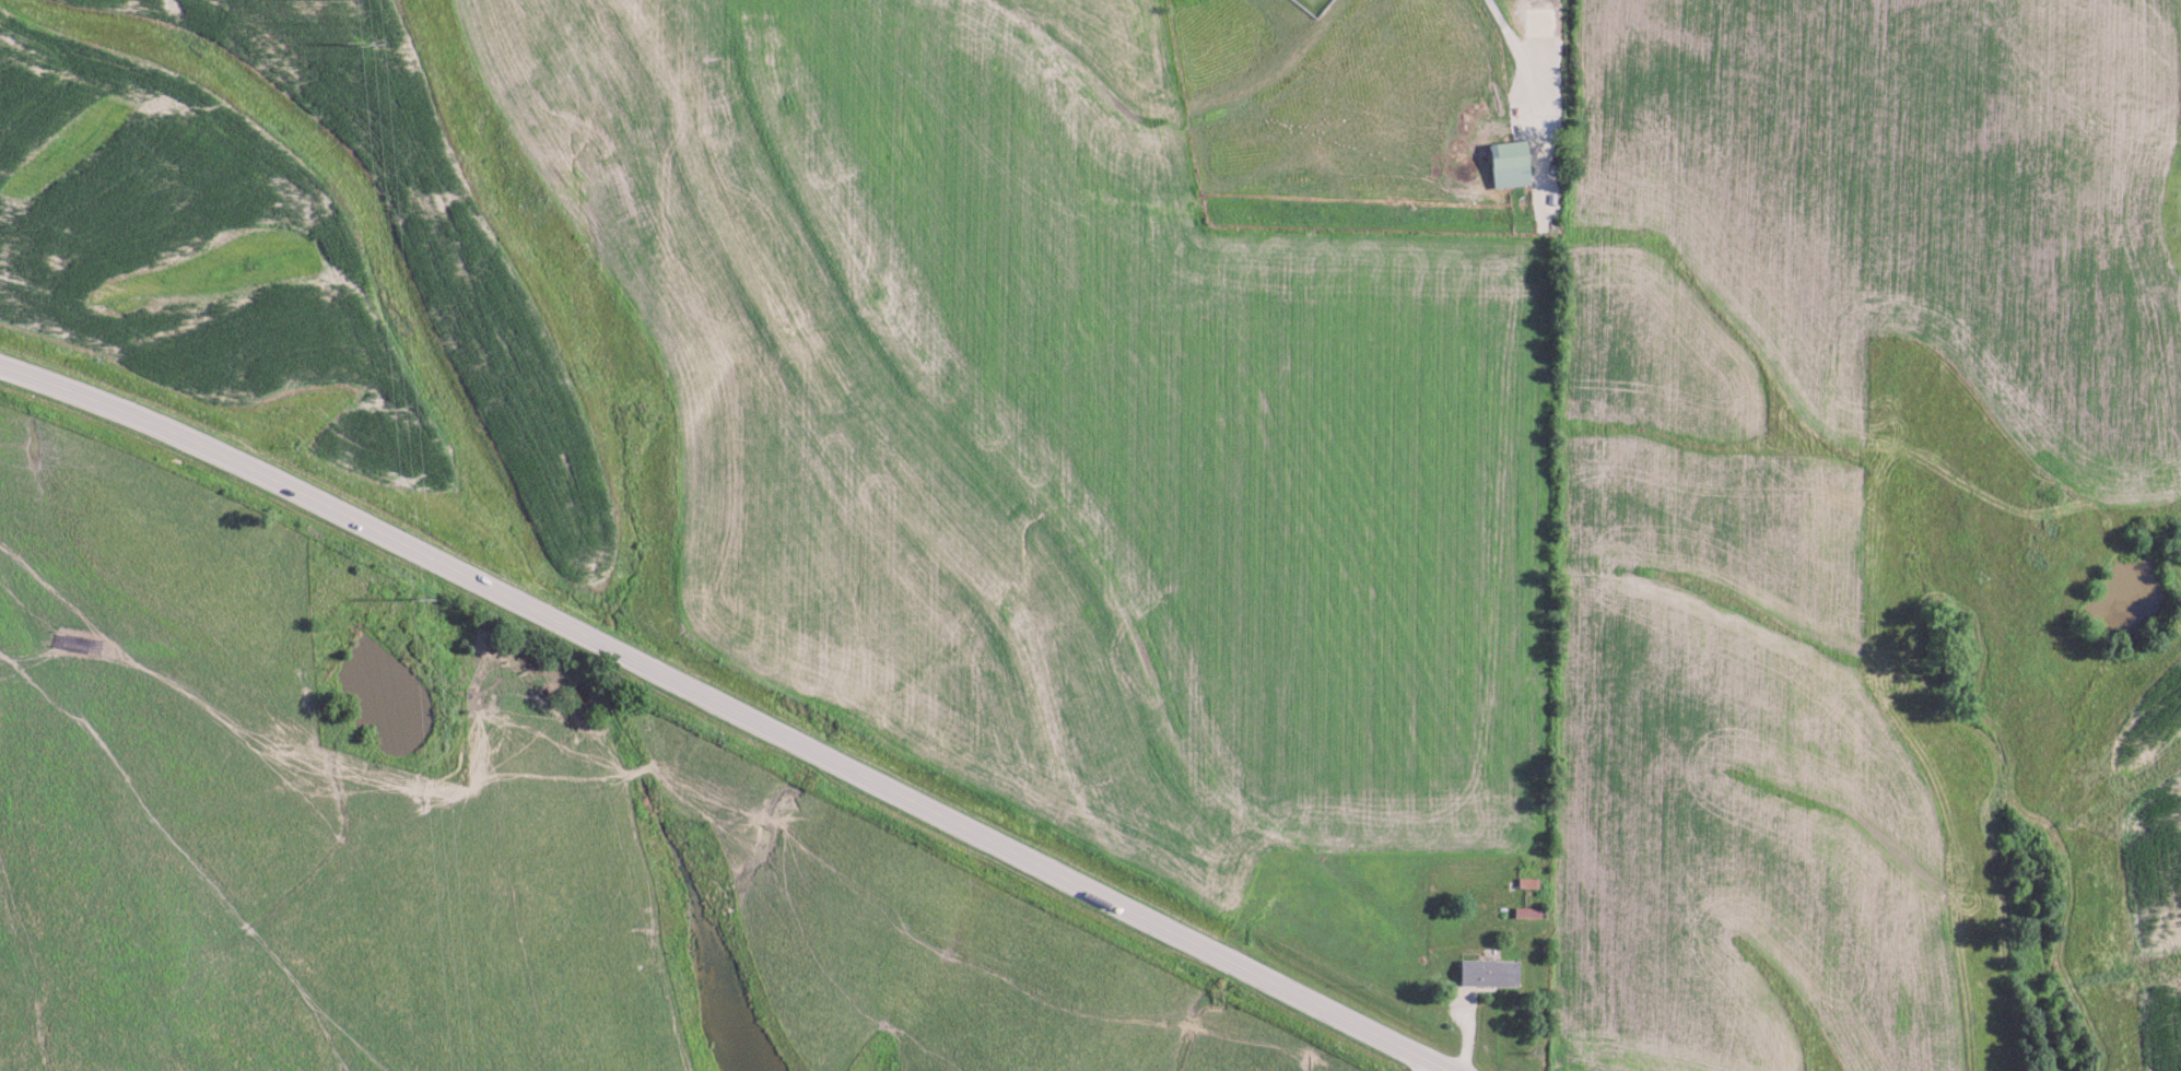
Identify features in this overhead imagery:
road: (1529, 67)
building: (1505, 162)
road: (730, 706)
building: (1485, 972)

